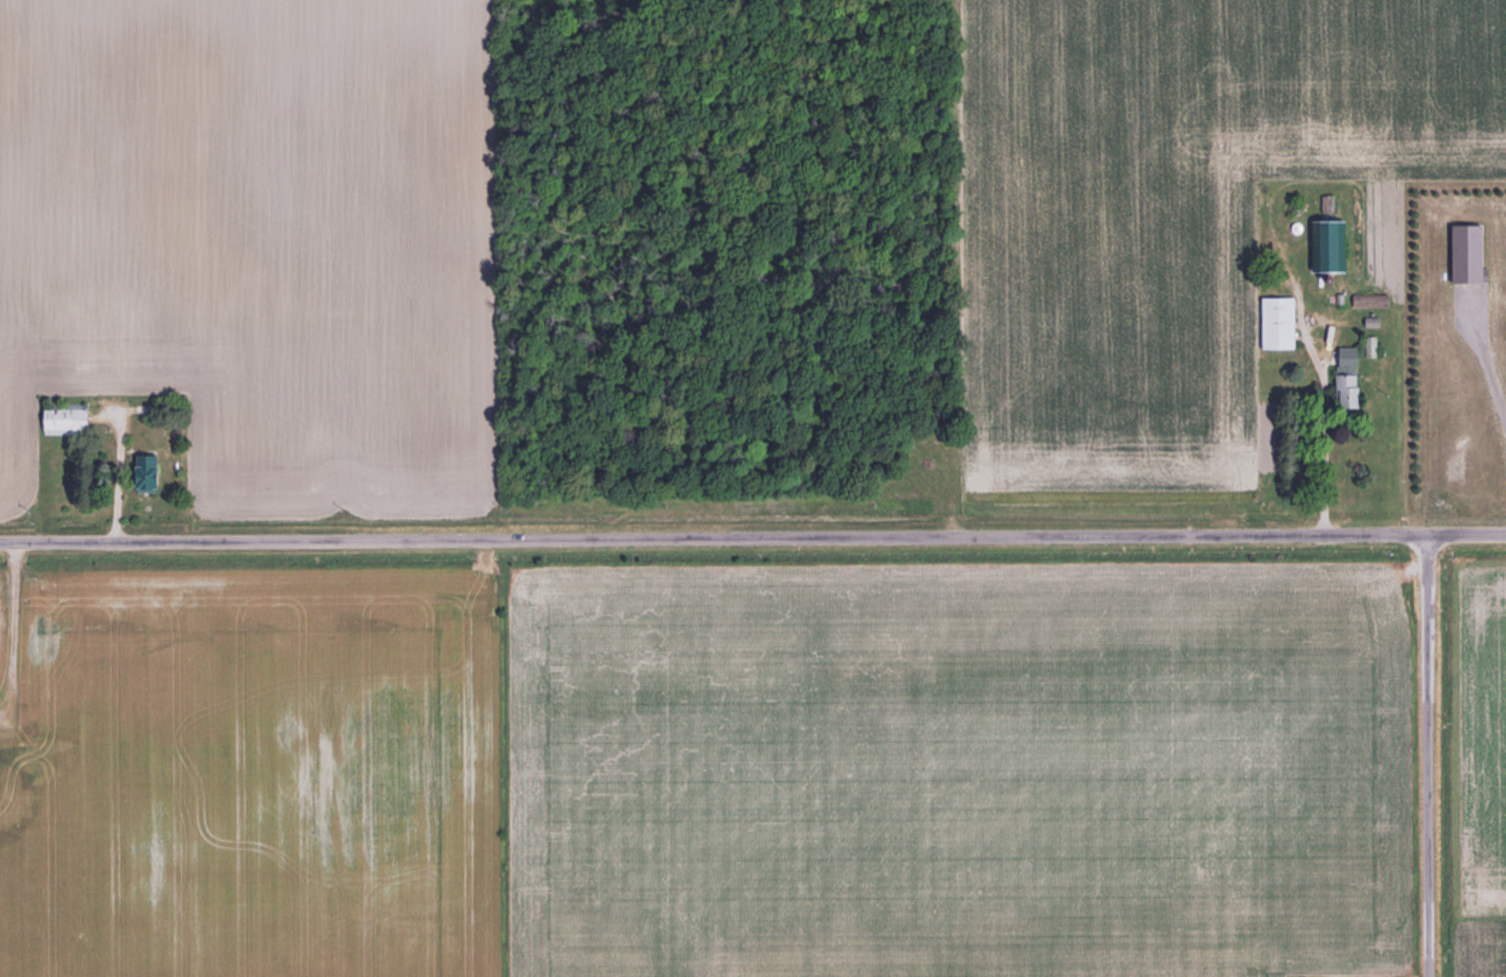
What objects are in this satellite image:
building: (1323, 247)
building: (1275, 323)
building: (1369, 347)
road: (1485, 357)
building: (1342, 379)
building: (58, 419)
road: (119, 468)
building: (140, 473)
road: (753, 538)
road: (1428, 755)

